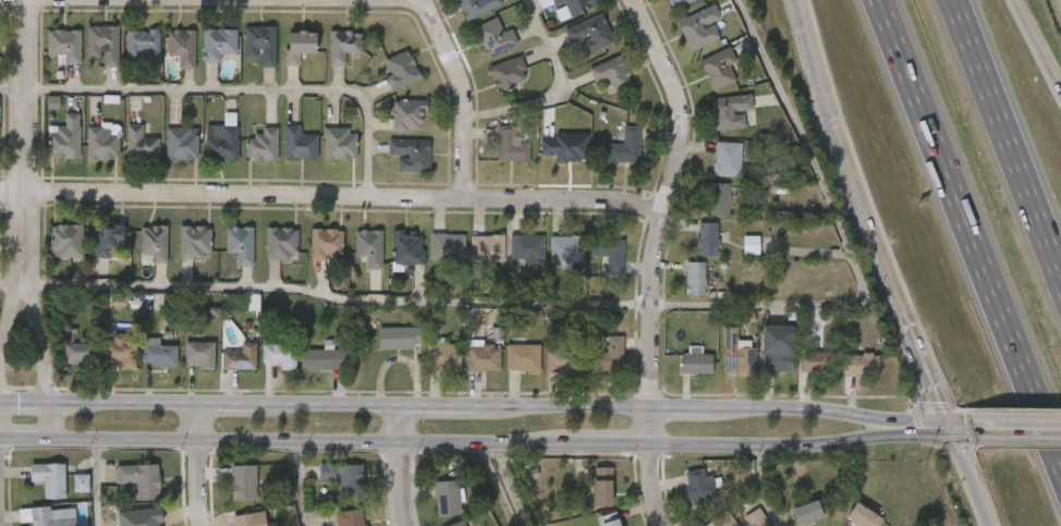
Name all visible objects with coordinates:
building: (679, 3)
building: (573, 4)
building: (477, 7)
building: (699, 26)
building: (589, 33)
building: (496, 36)
building: (219, 44)
building: (65, 45)
building: (103, 45)
building: (143, 45)
building: (260, 45)
building: (300, 46)
building: (344, 46)
road: (1036, 46)
building: (183, 47)
building: (718, 70)
building: (402, 71)
building: (509, 72)
building: (611, 73)
road: (13, 89)
road: (244, 90)
road: (463, 90)
road: (569, 93)
building: (53, 102)
building: (729, 111)
building: (408, 115)
road: (1010, 134)
road: (26, 138)
building: (64, 143)
building: (103, 143)
building: (142, 144)
building: (181, 144)
building: (301, 144)
building: (341, 144)
building: (223, 145)
building: (264, 145)
building: (510, 145)
building: (625, 145)
building: (566, 148)
building: (412, 155)
building: (727, 158)
road: (842, 158)
road: (331, 196)
building: (719, 198)
building: (784, 216)
building: (707, 238)
building: (107, 240)
building: (66, 241)
building: (154, 242)
building: (194, 242)
building: (326, 243)
building: (240, 244)
building: (281, 244)
building: (749, 244)
building: (448, 245)
building: (369, 247)
building: (527, 247)
building: (408, 248)
building: (488, 248)
building: (566, 248)
road: (845, 249)
road: (965, 249)
building: (607, 253)
road: (655, 257)
building: (695, 278)
road: (9, 286)
road: (339, 303)
building: (572, 322)
road: (4, 333)
building: (70, 335)
building: (400, 338)
building: (122, 350)
building: (78, 352)
building: (199, 354)
building: (609, 354)
building: (160, 355)
building: (280, 355)
road: (45, 357)
building: (446, 357)
building: (484, 357)
building: (522, 357)
building: (737, 357)
building: (240, 358)
building: (562, 358)
building: (321, 359)
building: (777, 362)
building: (817, 362)
building: (696, 364)
road: (923, 364)
building: (862, 365)
road: (472, 401)
traffic signals: (943, 416)
road: (964, 416)
road: (1023, 416)
road: (1, 418)
road: (947, 427)
road: (1025, 437)
traffic signals: (951, 438)
road: (495, 448)
road: (199, 463)
road: (400, 463)
building: (343, 476)
building: (50, 478)
building: (141, 479)
road: (968, 481)
building: (82, 482)
building: (243, 482)
road: (99, 485)
building: (700, 486)
road: (301, 487)
building: (602, 487)
building: (448, 499)
building: (808, 512)
building: (49, 516)
building: (864, 516)
building: (352, 517)
building: (756, 517)
building: (249, 519)
building: (609, 519)
building: (723, 519)
road: (0, 522)
building: (462, 525)

